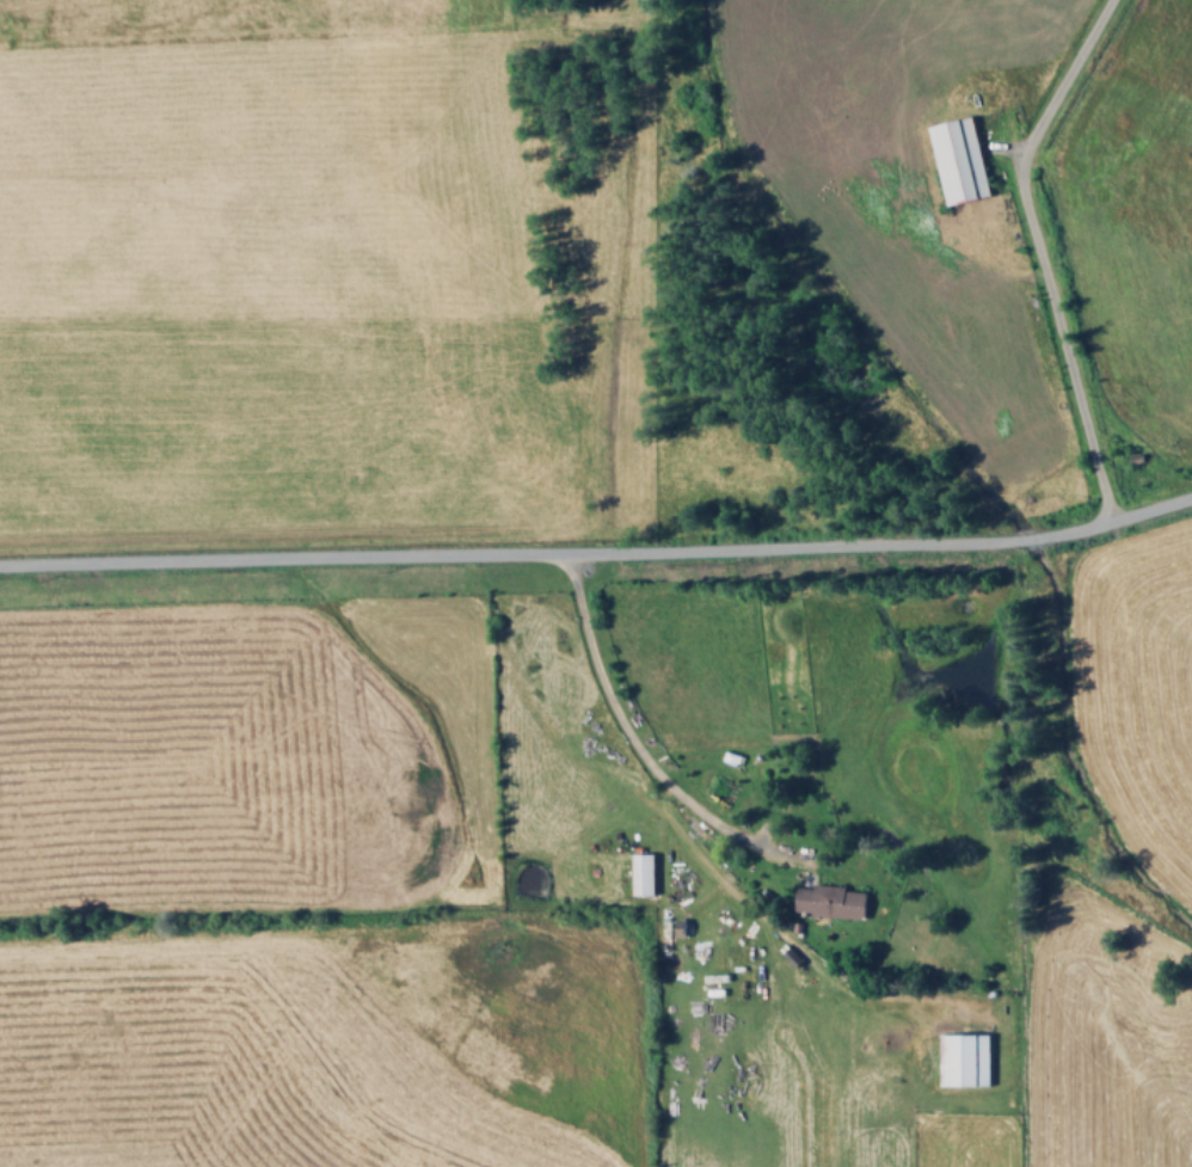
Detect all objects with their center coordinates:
road: (1007, 148)
building: (960, 160)
road: (1037, 252)
road: (598, 552)
road: (637, 749)
building: (644, 873)
crop: (539, 898)
building: (830, 901)
building: (964, 1058)

